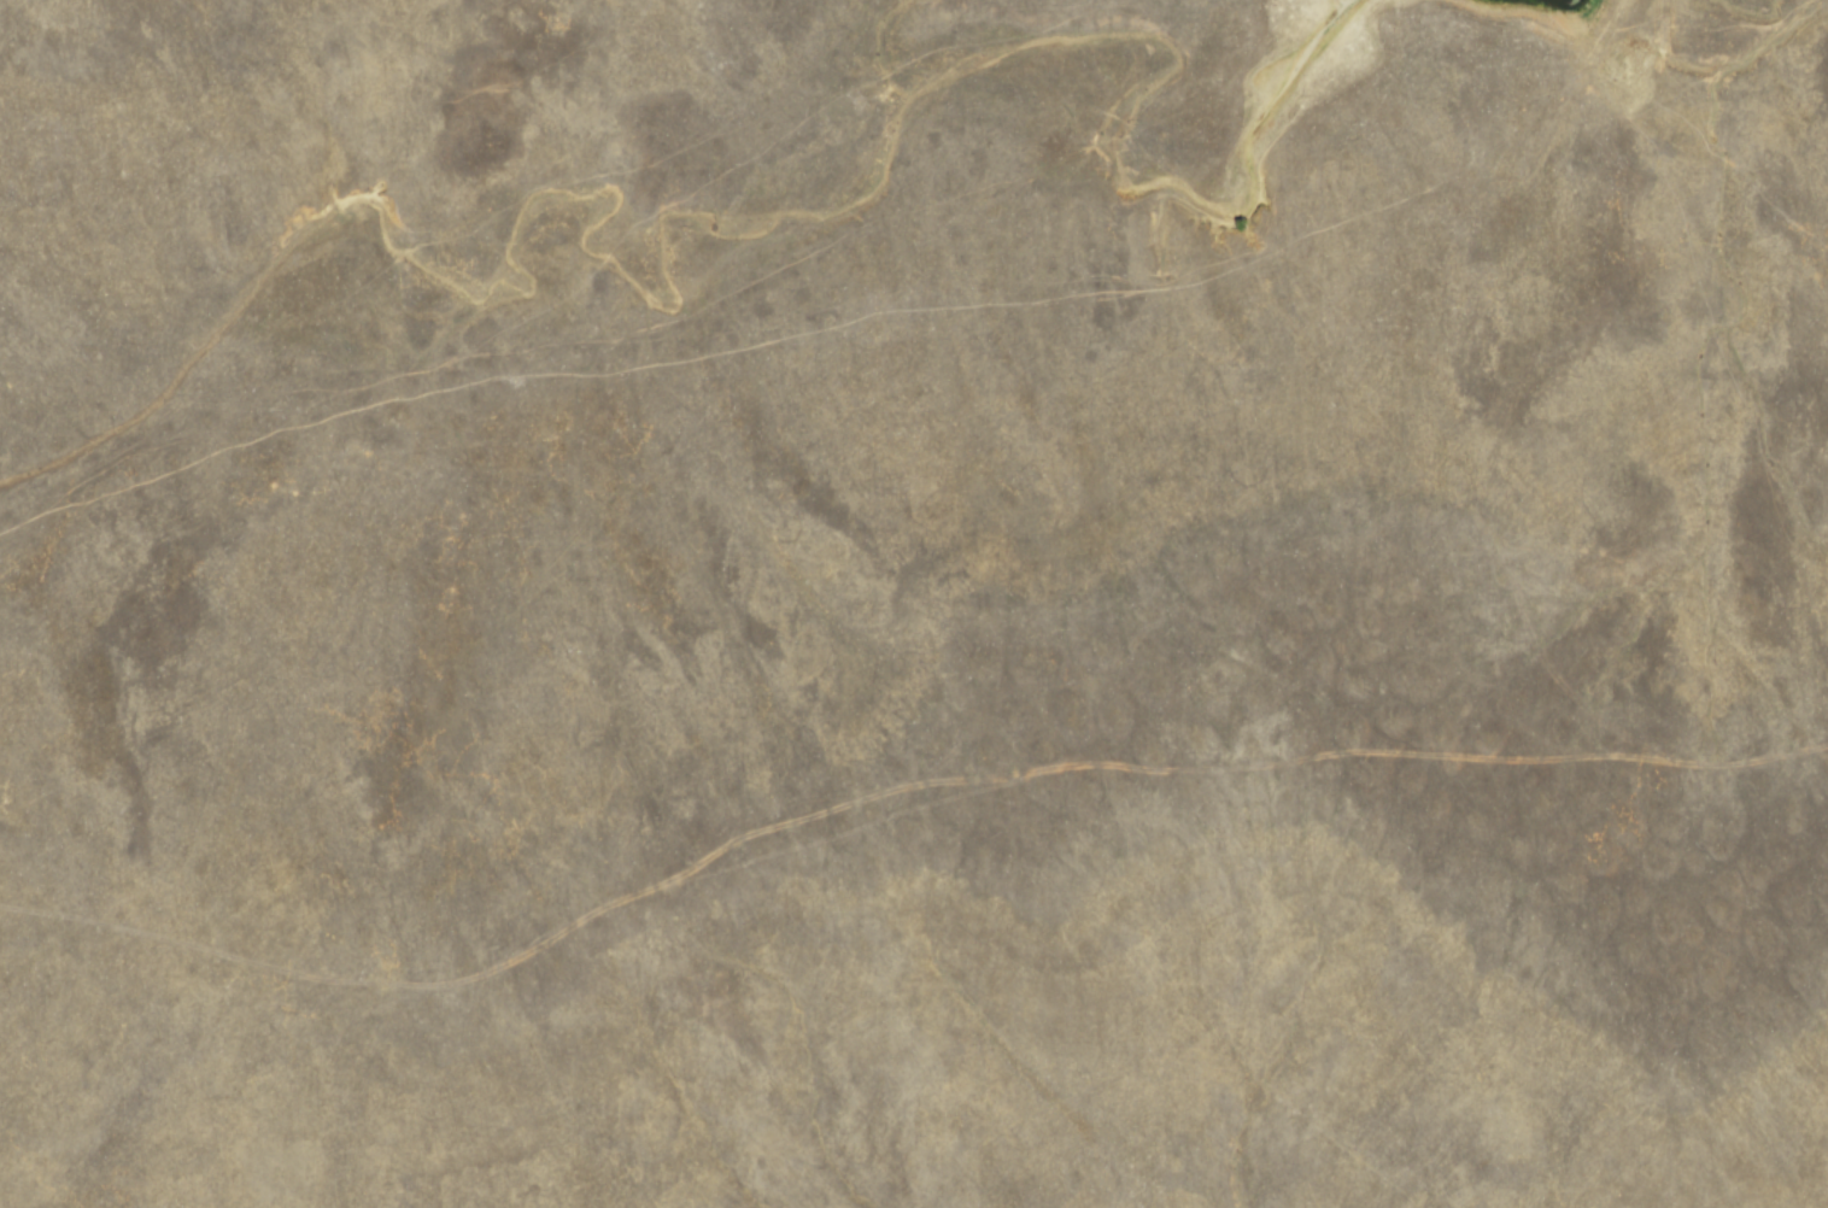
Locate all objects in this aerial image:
dam: (1598, 25)

